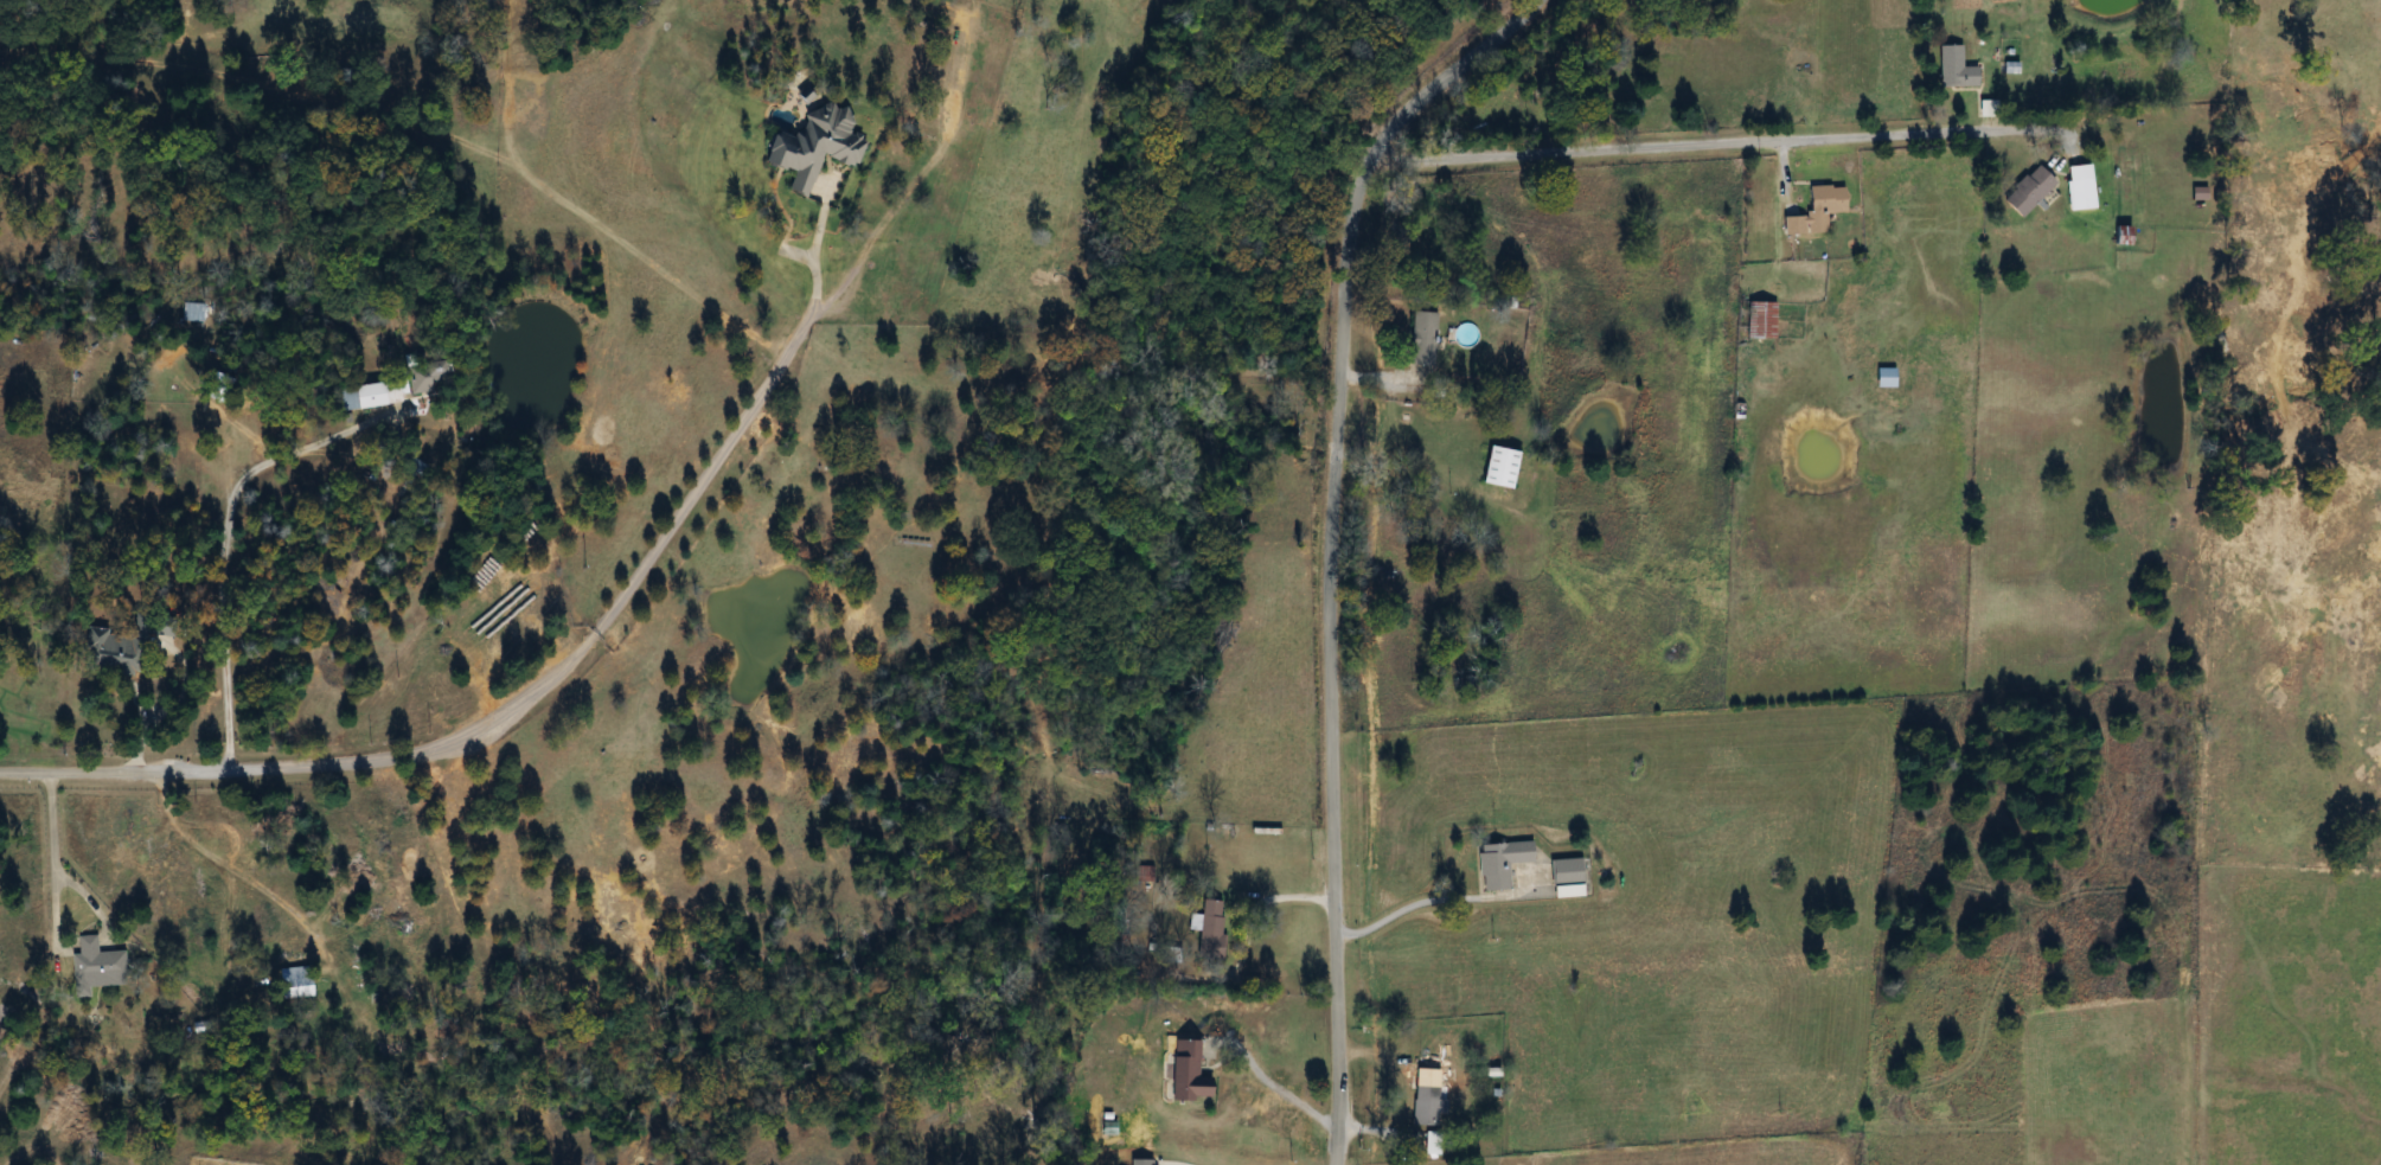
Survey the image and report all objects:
building: (1953, 70)
road: (1724, 136)
building: (811, 148)
building: (2076, 188)
building: (2025, 193)
building: (1813, 211)
road: (814, 251)
building: (1759, 322)
building: (1420, 340)
building: (1503, 348)
building: (429, 376)
building: (377, 395)
building: (1881, 417)
building: (1496, 467)
road: (1331, 542)
road: (220, 551)
building: (114, 651)
road: (175, 705)
road: (506, 721)
road: (50, 859)
building: (1499, 863)
building: (1564, 872)
road: (1403, 903)
building: (1210, 930)
building: (101, 965)
building: (293, 982)
building: (1188, 1074)
road: (1273, 1084)
building: (1427, 1107)
building: (1140, 1163)

